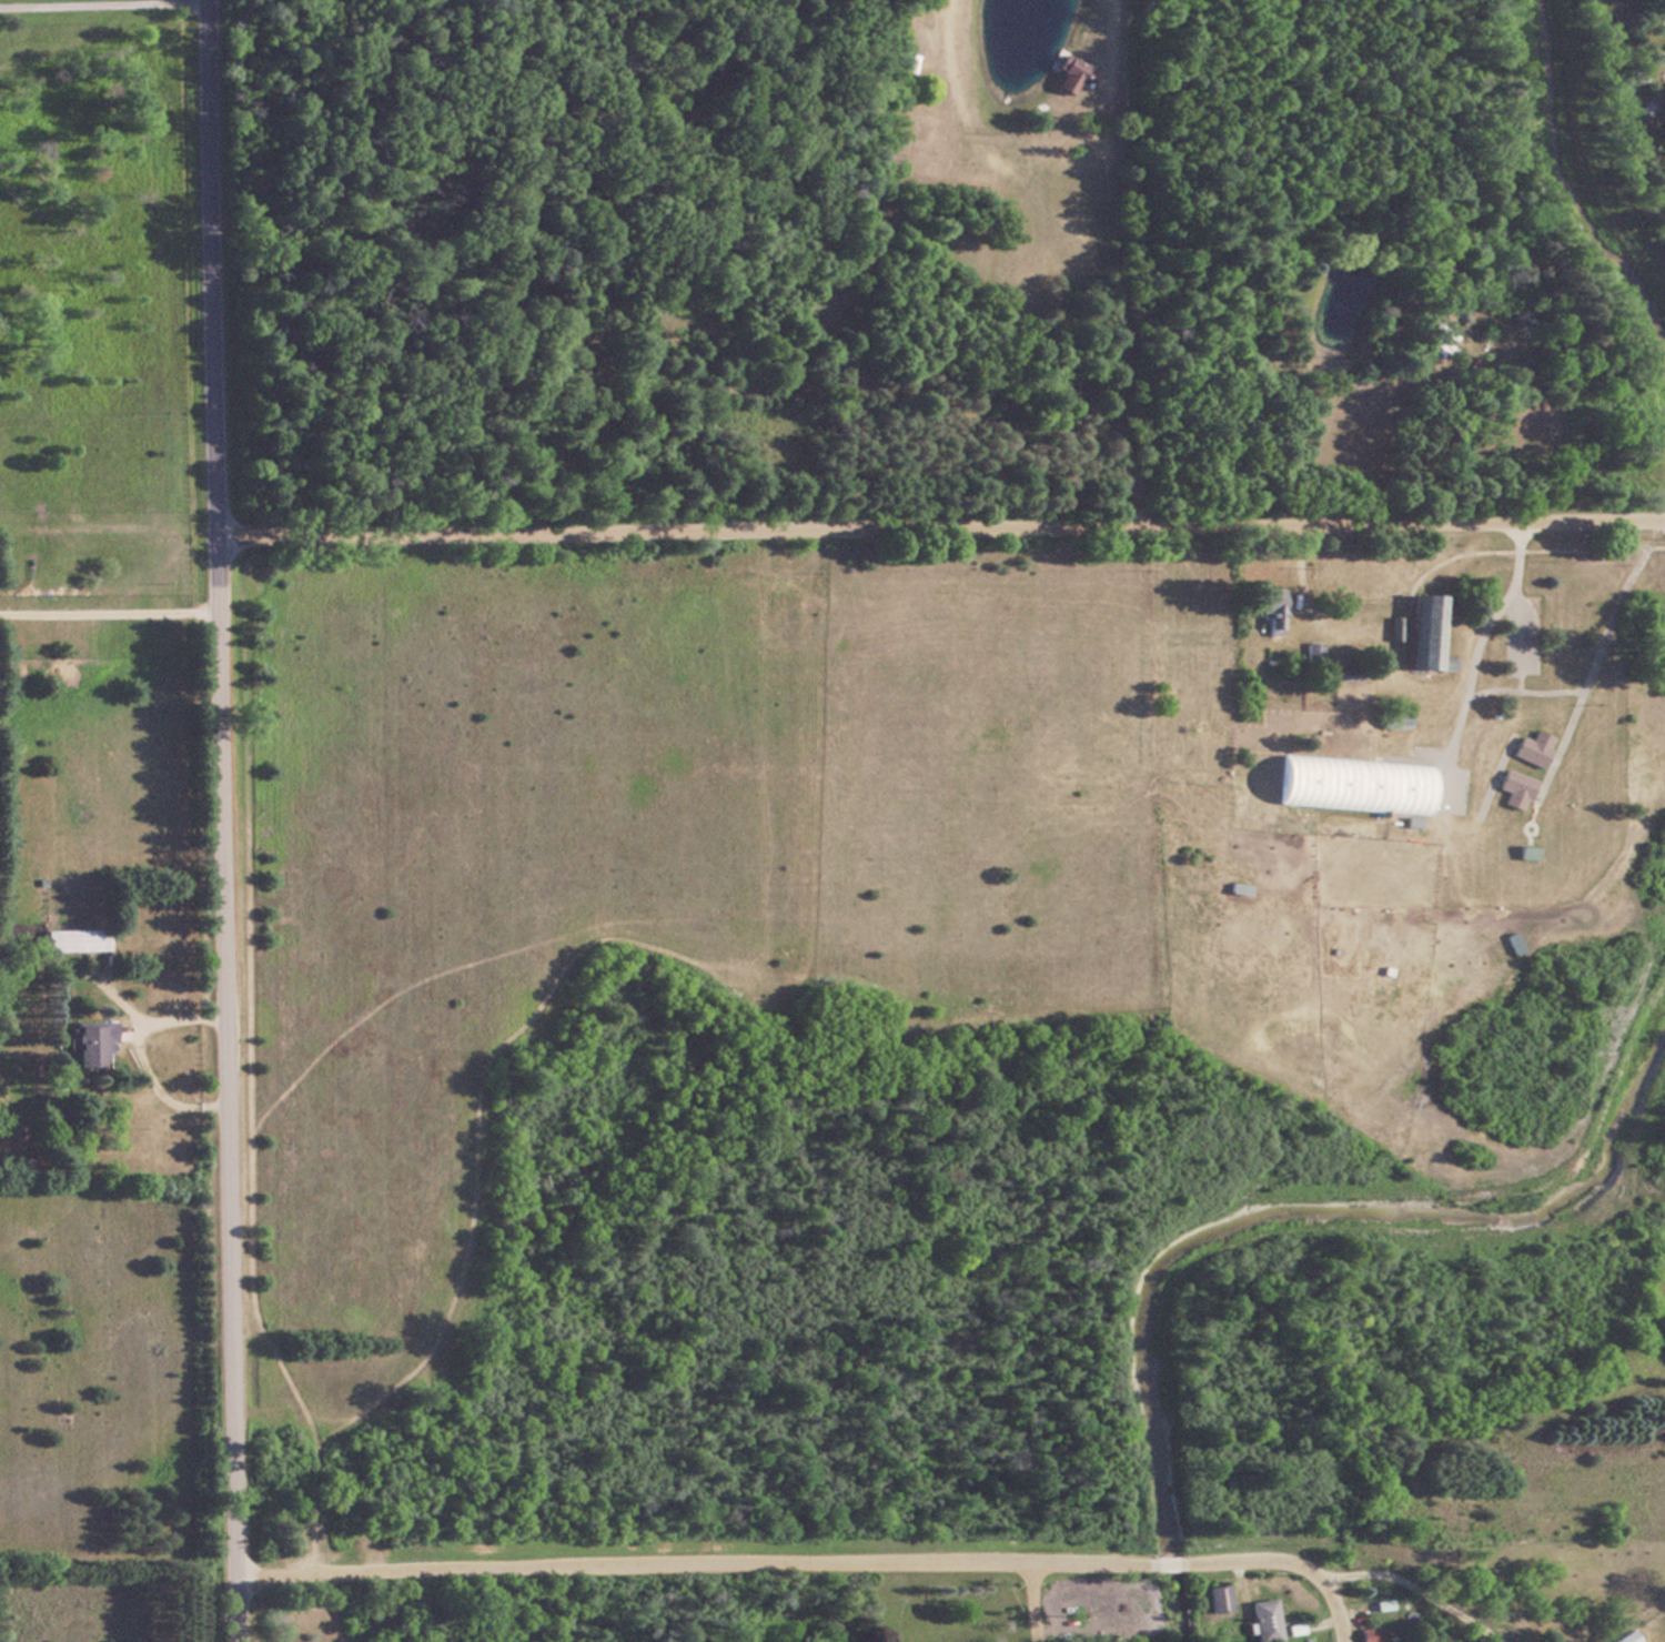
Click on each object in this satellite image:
road: (104, 3)
building: (1070, 73)
building: (1437, 346)
building: (1639, 449)
road: (942, 531)
road: (111, 610)
building: (1271, 610)
building: (1425, 632)
building: (1313, 651)
building: (1532, 747)
building: (1352, 785)
building: (1514, 787)
road: (226, 820)
building: (1238, 888)
building: (75, 939)
building: (87, 1046)
road: (816, 1568)
road: (1416, 1585)
building: (1219, 1599)
road: (1039, 1602)
building: (1264, 1620)
building: (1371, 1634)
building: (1626, 1638)

